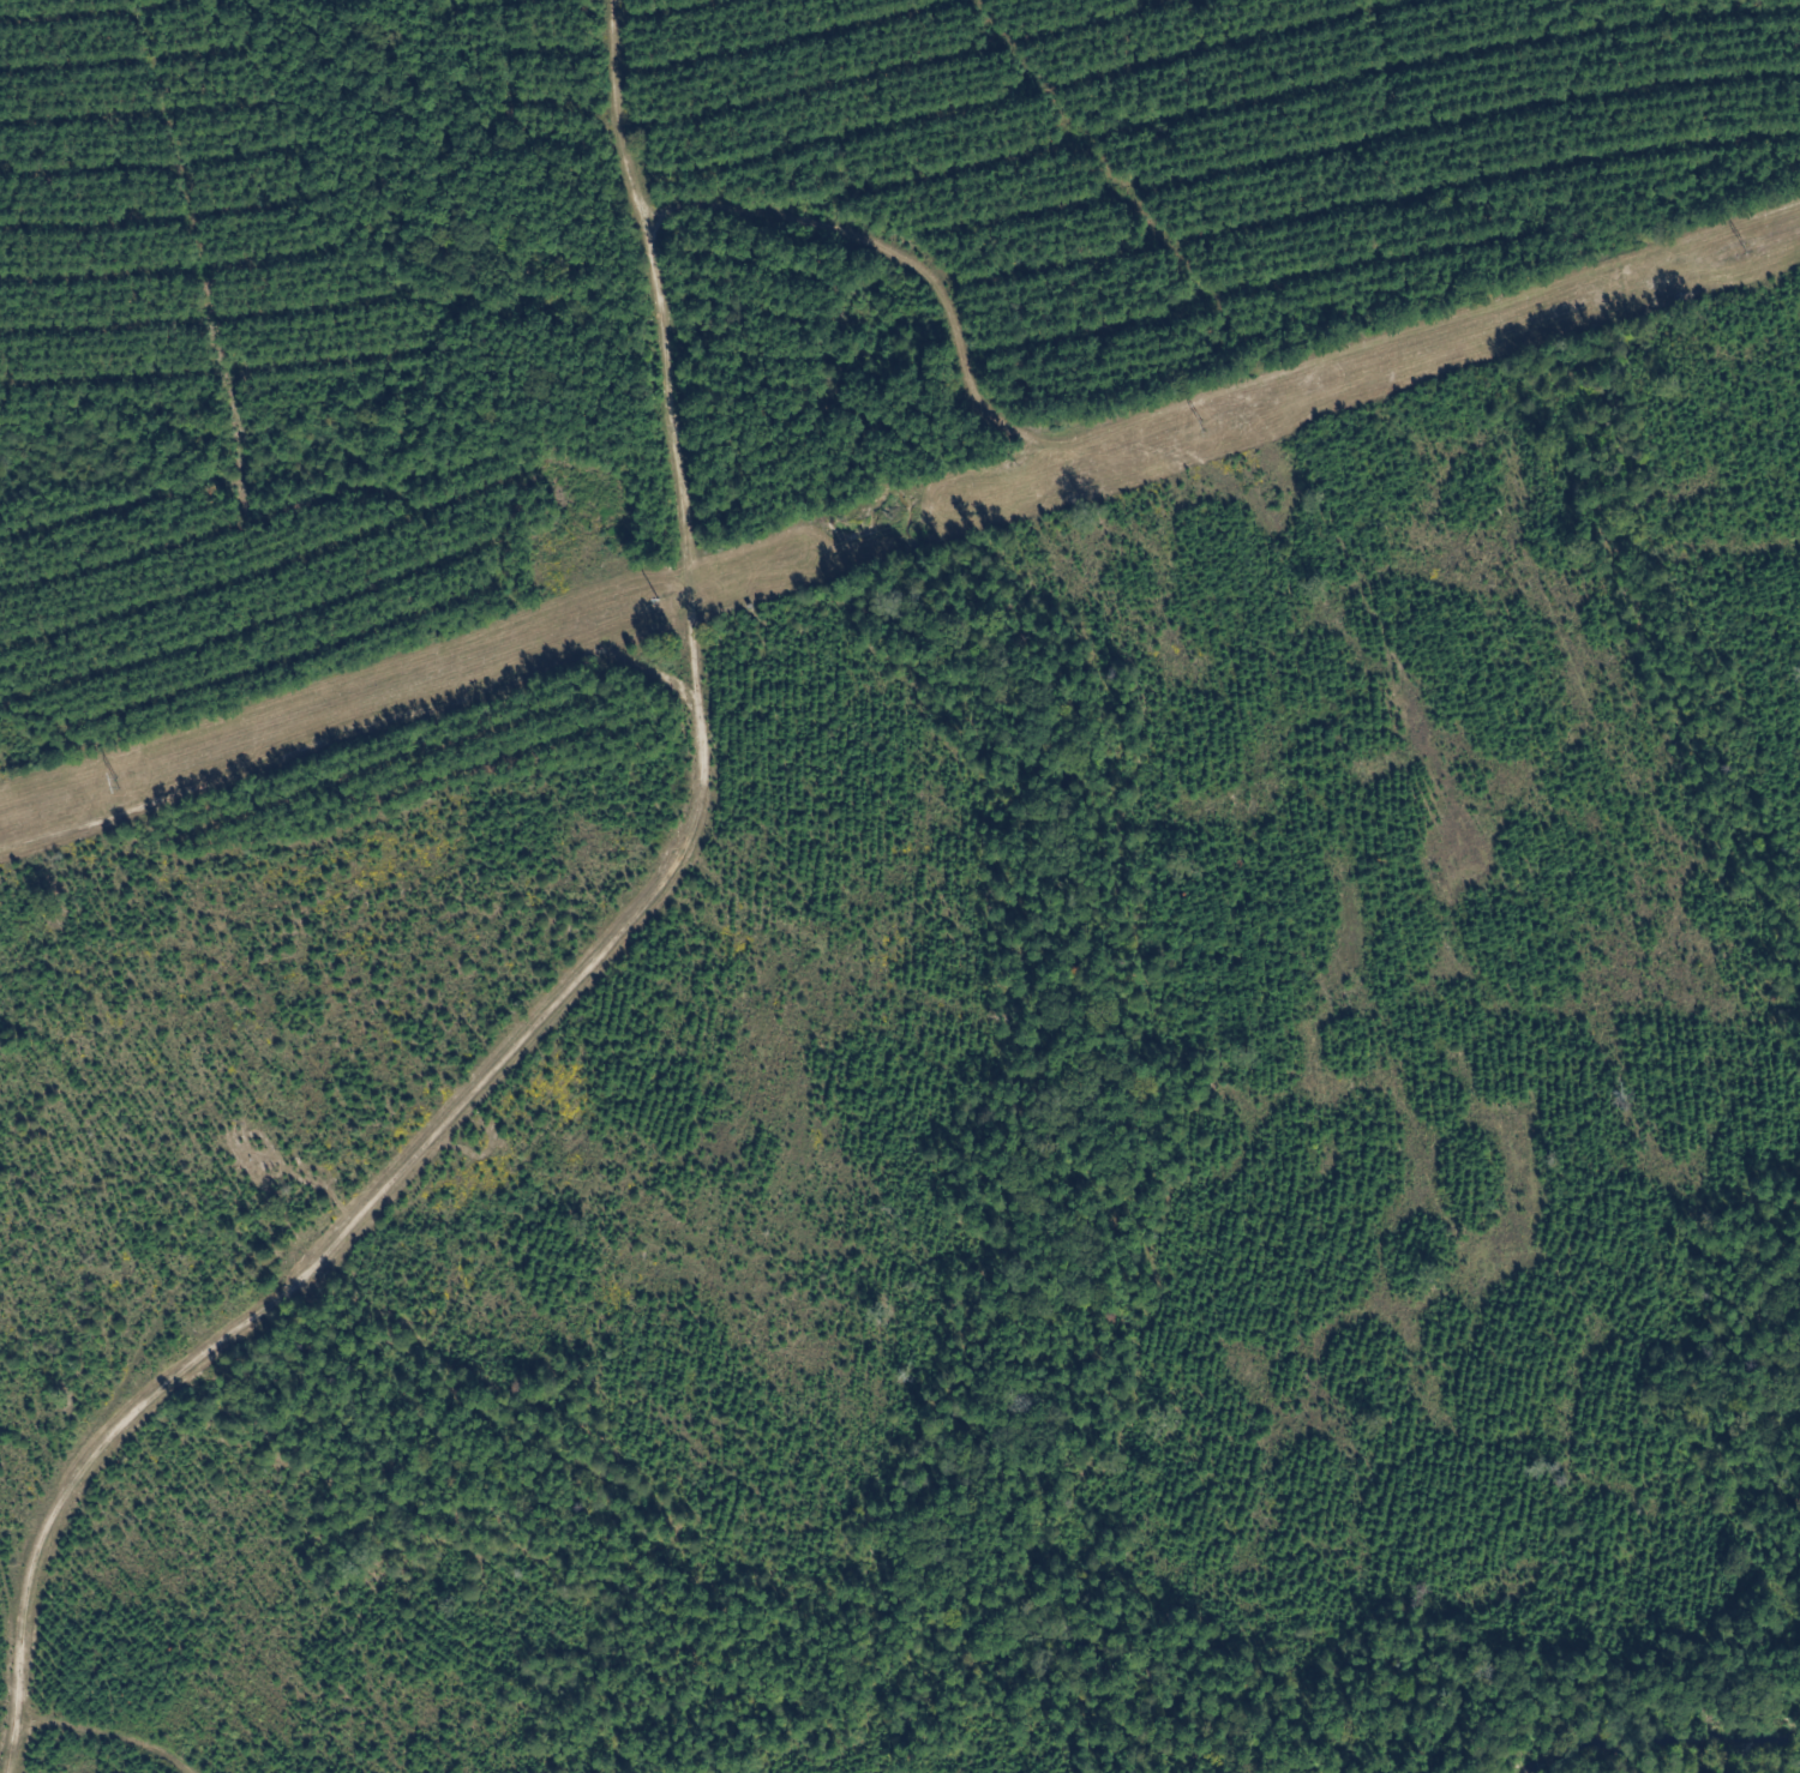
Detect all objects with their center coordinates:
power tower: (1738, 247)
power tower: (1195, 421)
power tower: (653, 603)
power tower: (109, 781)
road: (587, 952)
road: (66, 1724)

